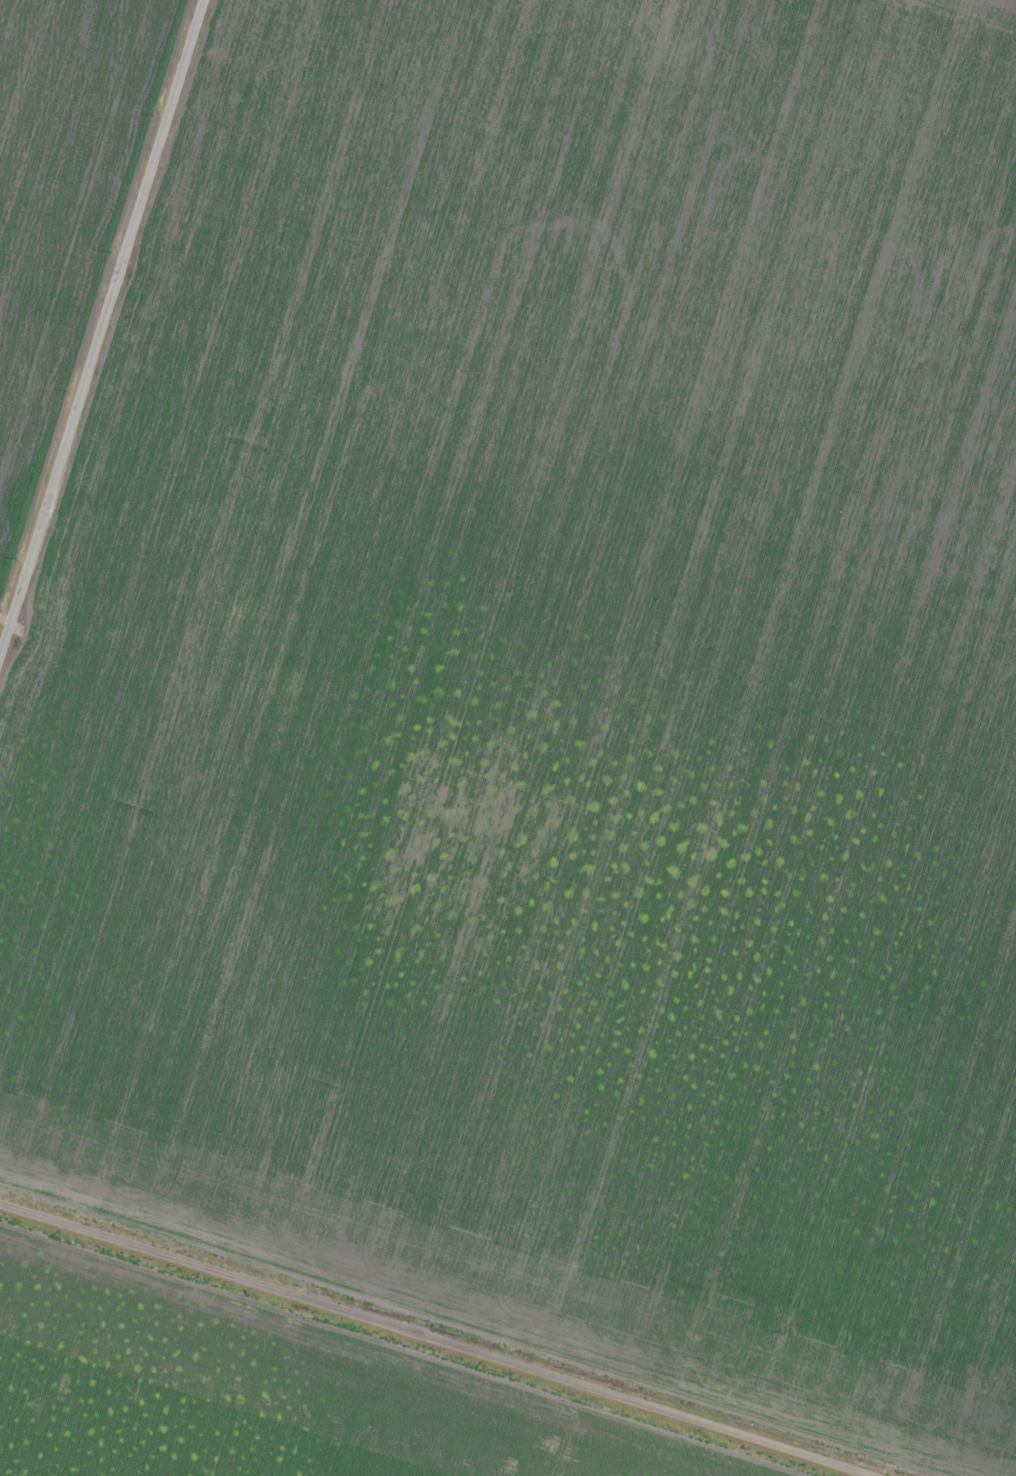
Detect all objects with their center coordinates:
road: (111, 355)
crop: (559, 696)
road: (436, 1333)

